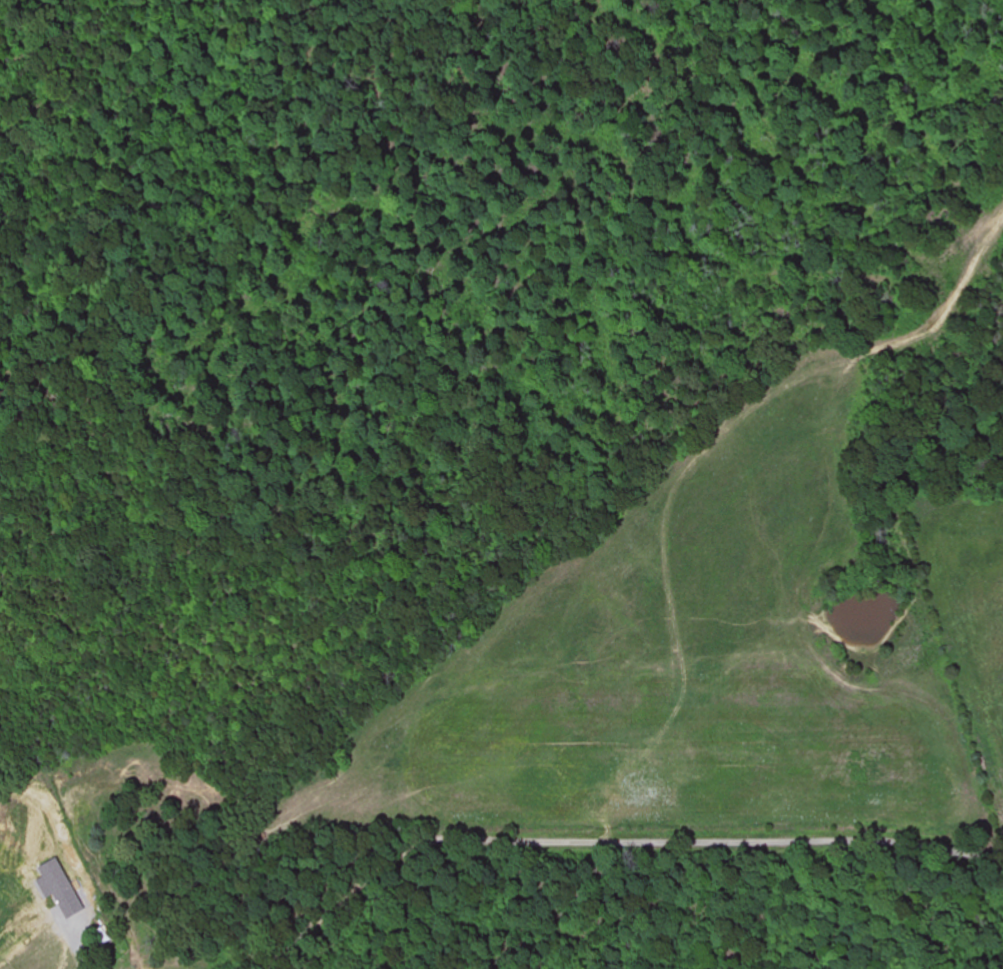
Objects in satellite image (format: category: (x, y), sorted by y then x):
road: (607, 844)
building: (53, 880)

